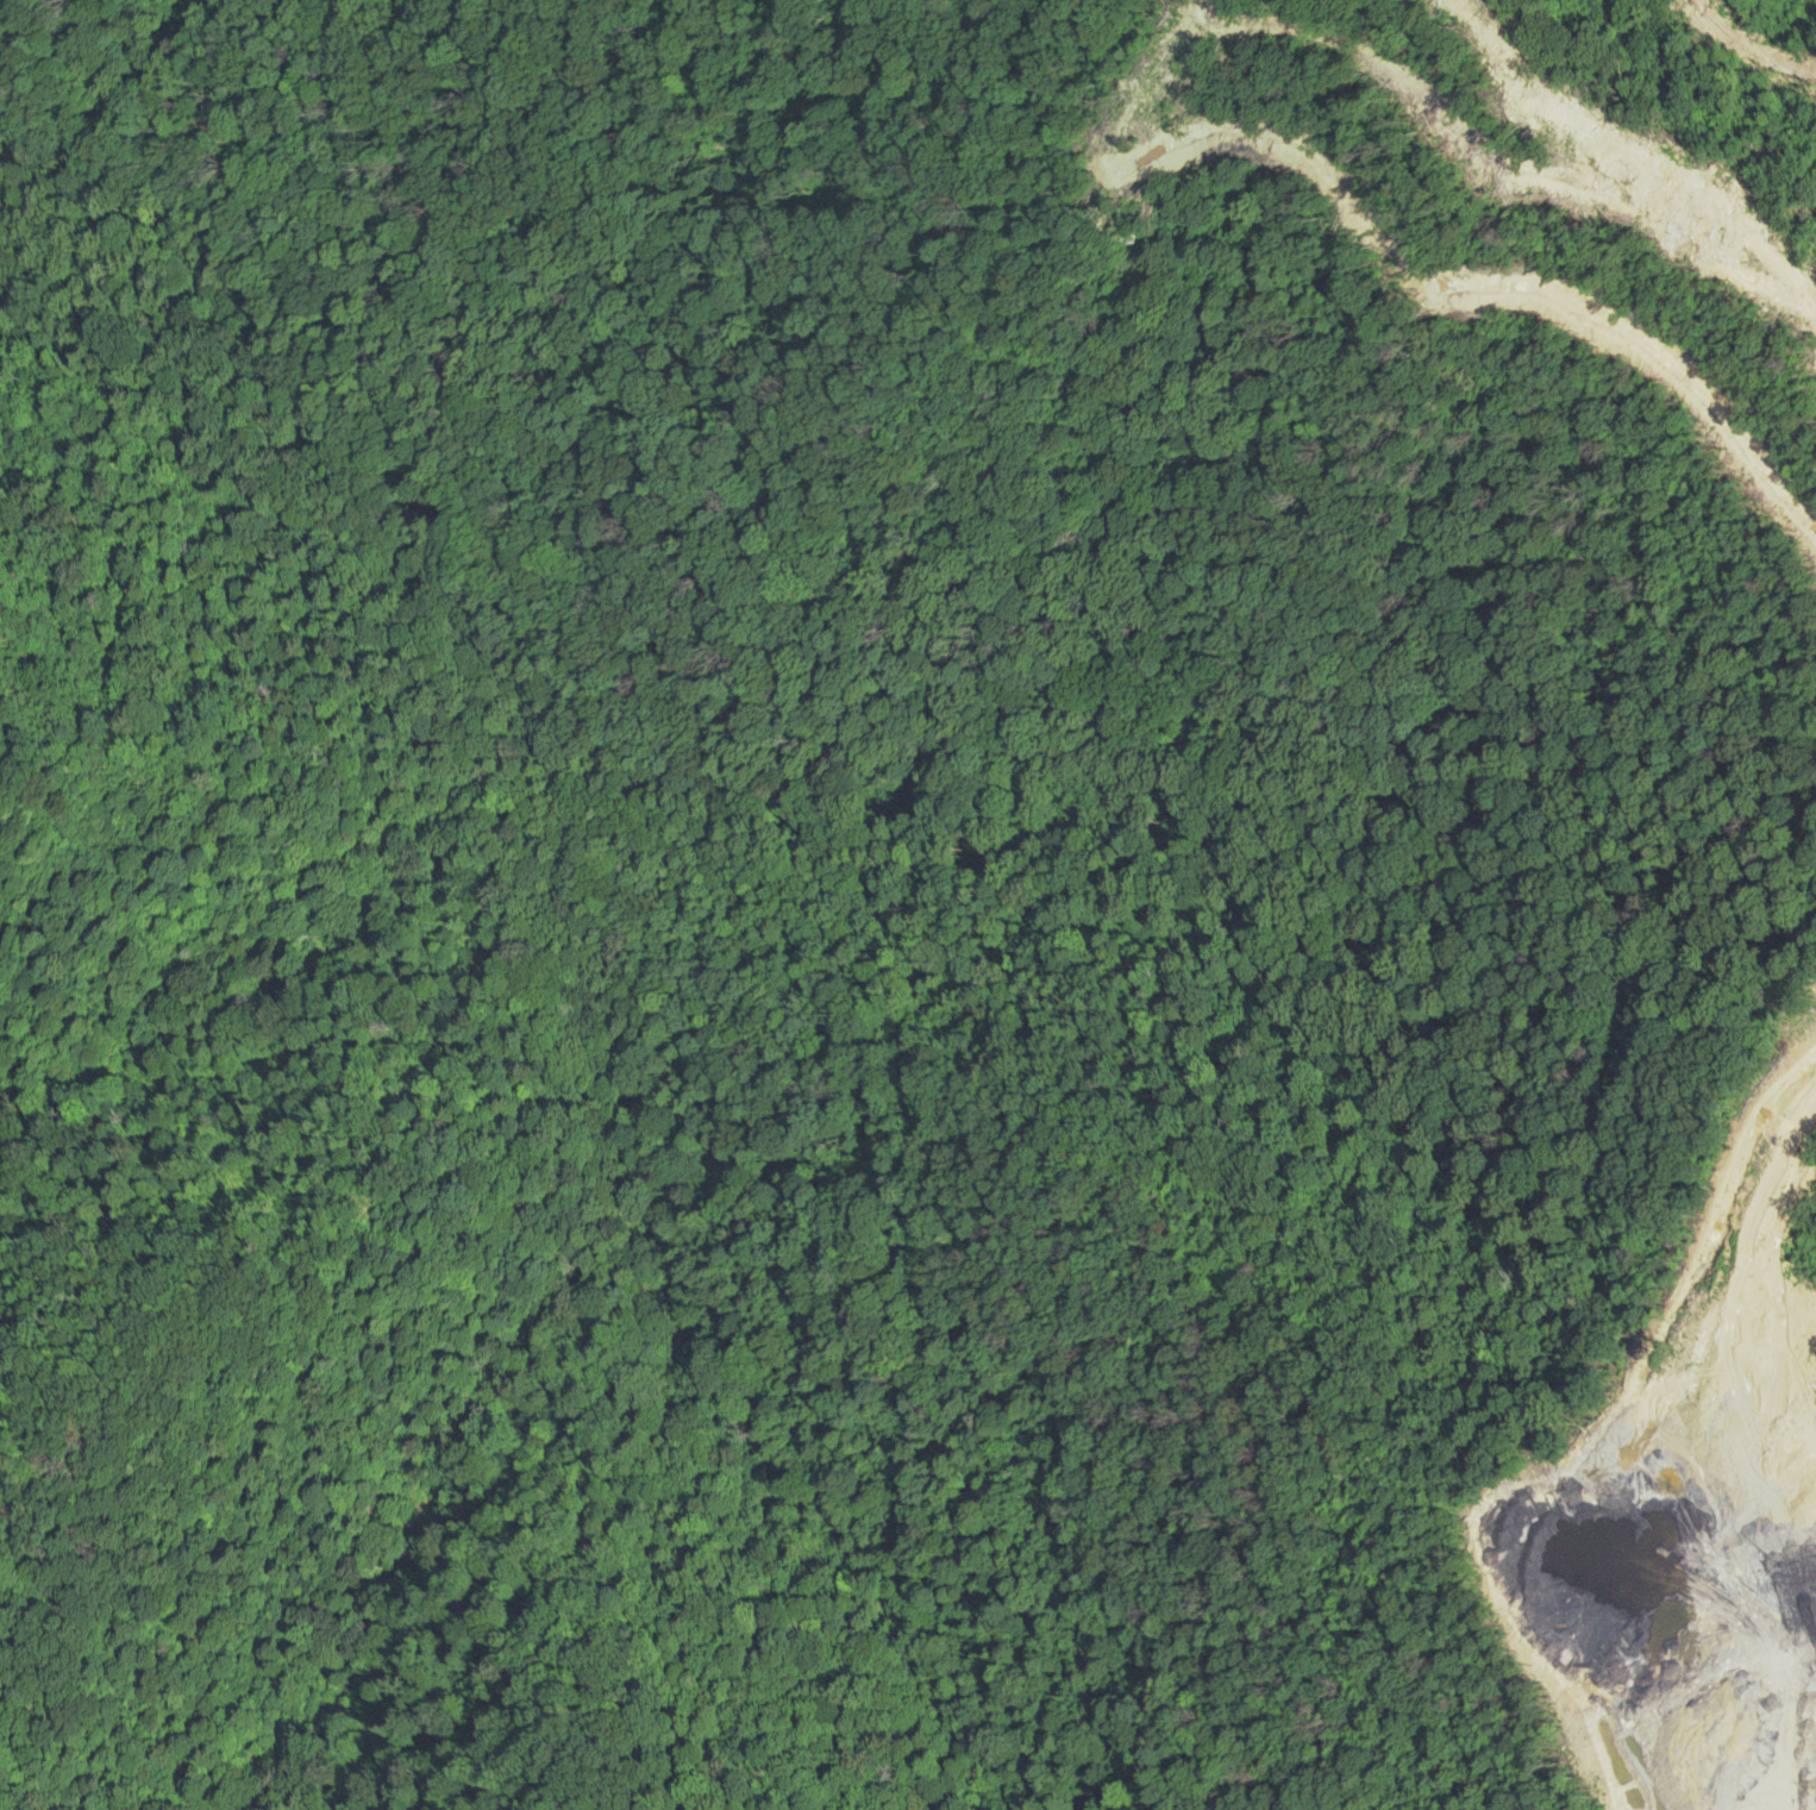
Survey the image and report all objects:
quarry: (1679, 1454)

